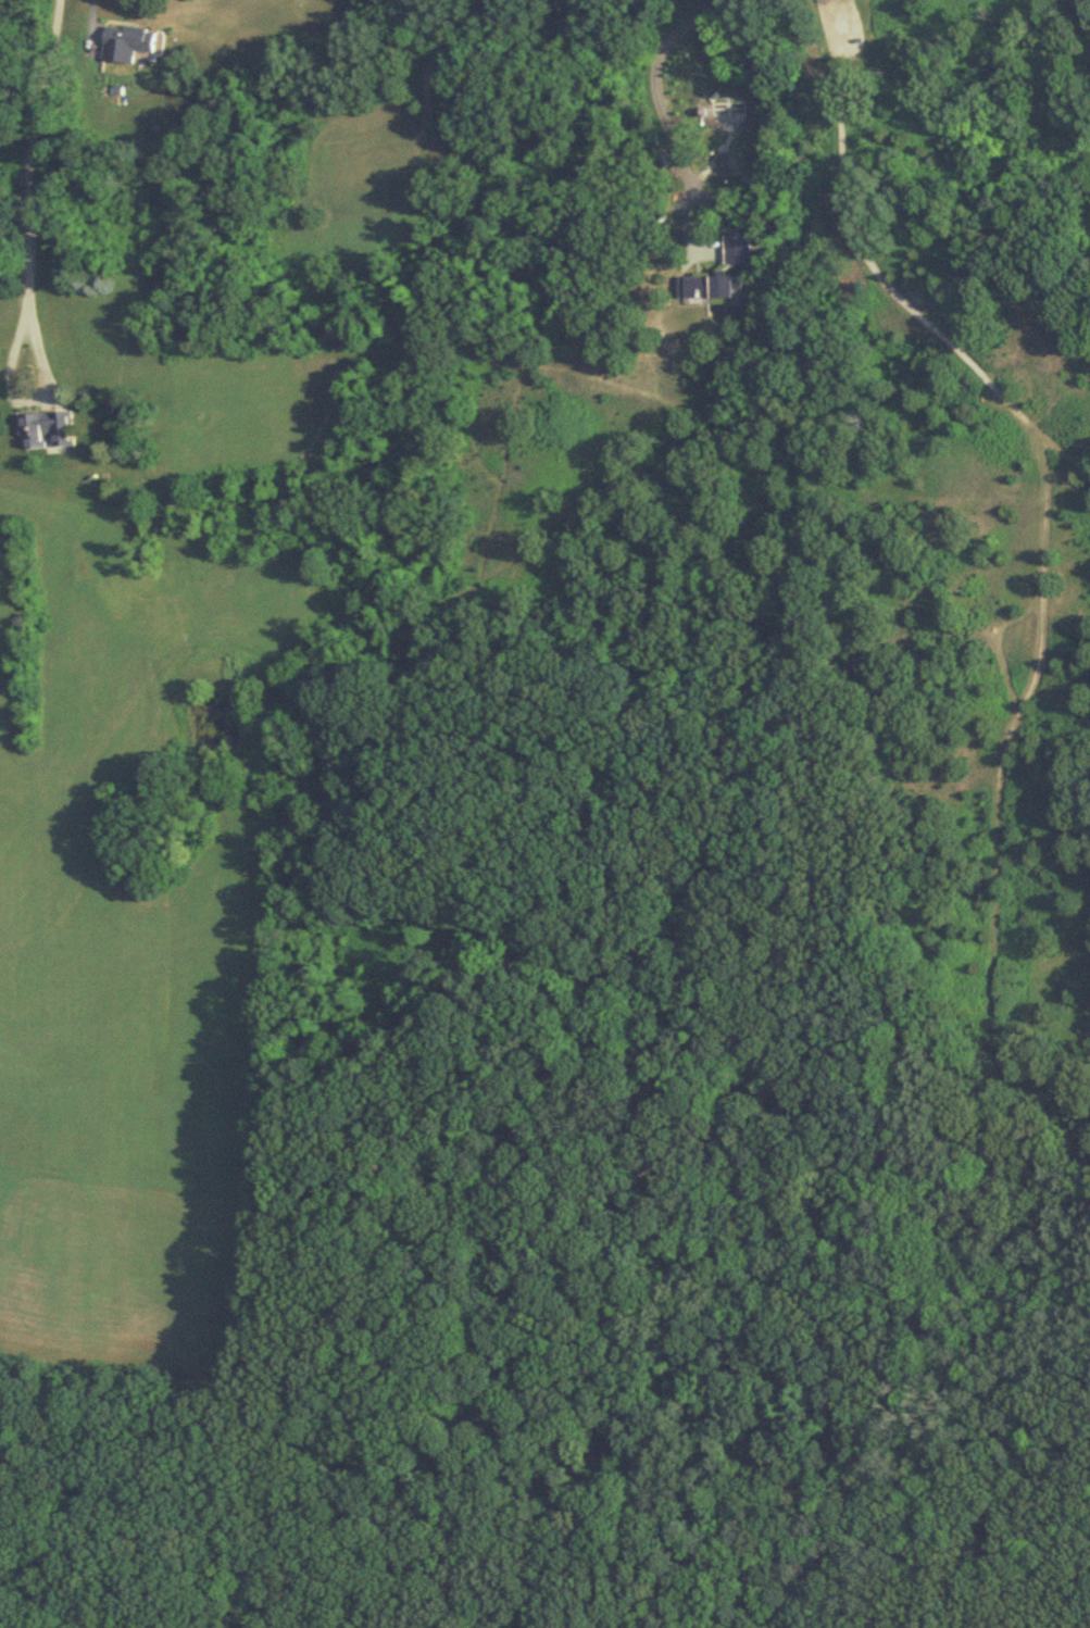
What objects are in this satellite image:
road: (91, 24)
road: (829, 29)
parking lot: (842, 32)
building: (128, 40)
road: (666, 122)
road: (29, 152)
road: (885, 271)
building: (160, 290)
road: (35, 399)
building: (51, 429)
road: (1063, 444)
park: (937, 813)
road: (991, 859)

